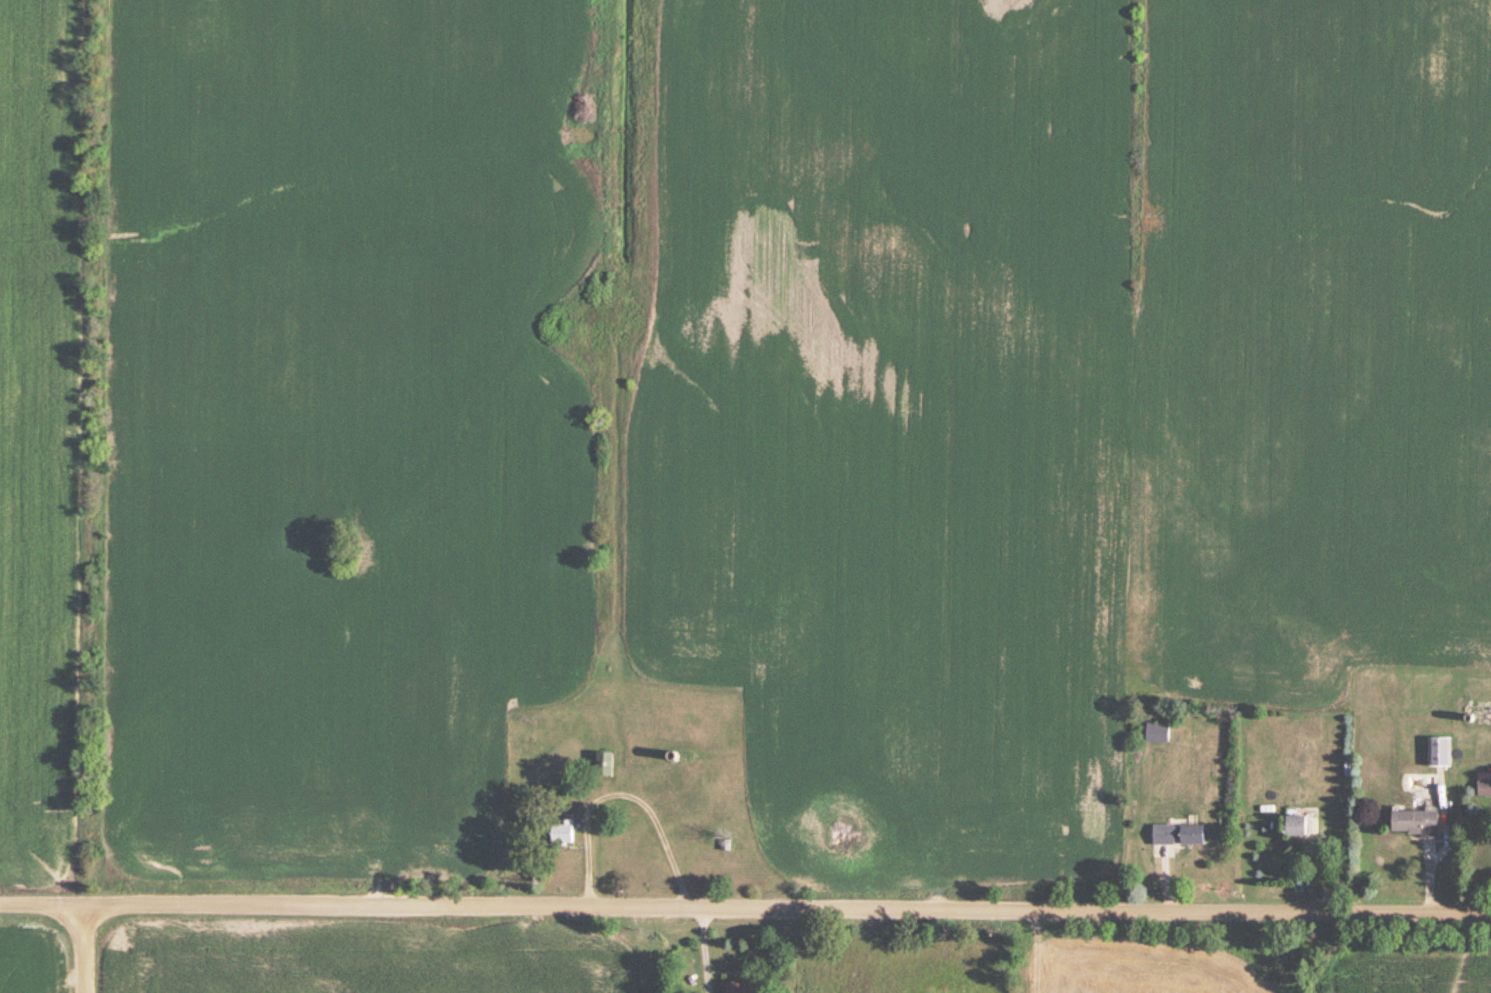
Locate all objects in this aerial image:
building: (1157, 734)
building: (1440, 752)
building: (604, 764)
building: (1483, 786)
building: (1415, 823)
building: (1295, 826)
building: (561, 831)
building: (1178, 835)
road: (745, 908)
road: (84, 947)
building: (740, 988)

